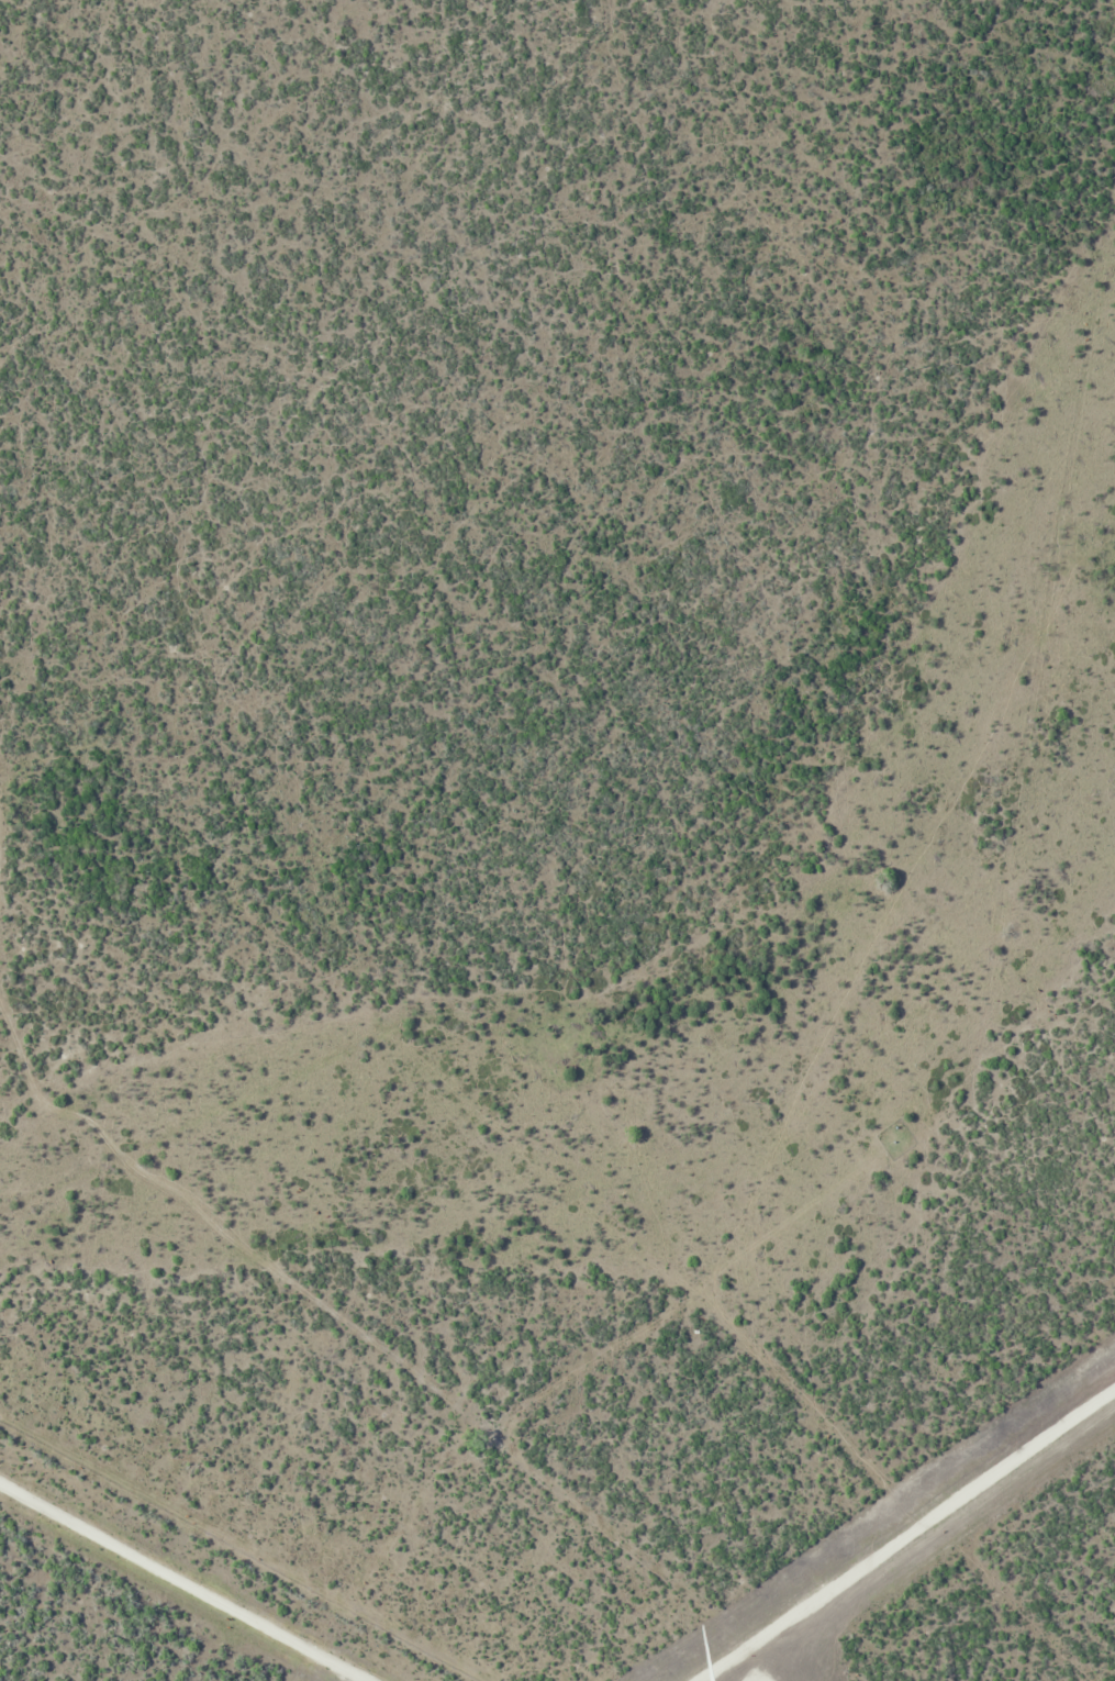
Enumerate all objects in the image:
road: (148, 1600)

